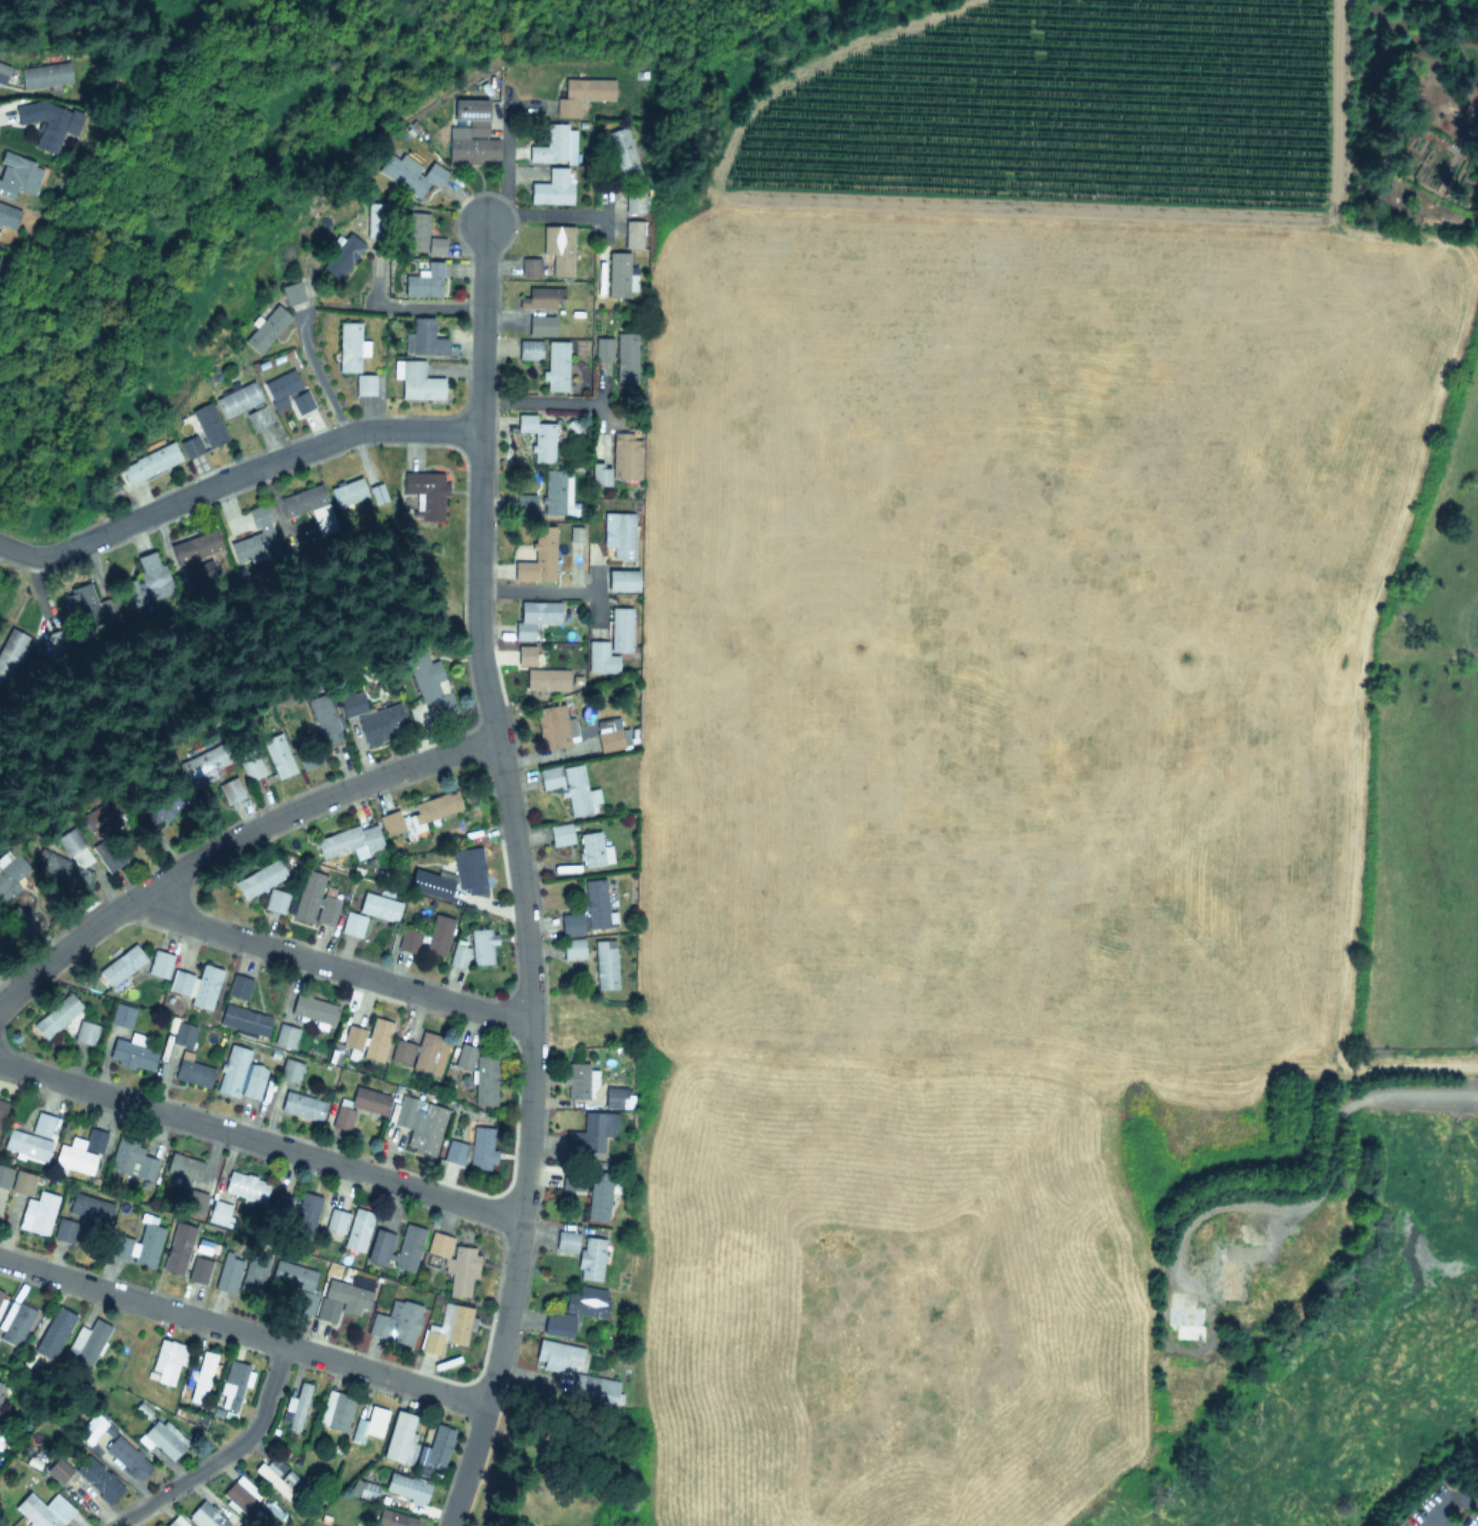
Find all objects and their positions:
building: (2, 72)
building: (43, 76)
building: (583, 94)
building: (43, 123)
building: (1475, 123)
building: (471, 133)
building: (551, 145)
building: (622, 151)
road: (506, 165)
building: (410, 173)
building: (17, 175)
building: (552, 187)
building: (635, 202)
road: (547, 214)
building: (8, 216)
building: (634, 234)
building: (421, 235)
building: (559, 249)
building: (342, 257)
building: (530, 267)
building: (618, 274)
building: (424, 281)
building: (292, 293)
building: (540, 297)
road: (420, 306)
building: (541, 324)
building: (266, 328)
building: (423, 337)
building: (349, 346)
building: (603, 346)
building: (529, 349)
building: (626, 357)
building: (556, 365)
road: (316, 374)
building: (418, 382)
building: (364, 384)
building: (287, 391)
building: (237, 399)
road: (539, 399)
building: (258, 417)
building: (207, 425)
building: (538, 436)
building: (190, 445)
building: (626, 456)
building: (149, 463)
road: (265, 463)
building: (555, 492)
building: (348, 493)
building: (426, 493)
building: (377, 494)
building: (308, 506)
building: (256, 534)
building: (618, 534)
building: (195, 549)
road: (31, 554)
building: (538, 558)
building: (622, 580)
building: (146, 582)
road: (533, 589)
building: (80, 607)
building: (534, 617)
building: (611, 643)
building: (10, 651)
building: (526, 654)
building: (546, 680)
building: (430, 684)
building: (371, 718)
building: (554, 725)
building: (326, 726)
crop: (1034, 728)
building: (609, 740)
building: (277, 756)
building: (309, 760)
building: (203, 763)
building: (251, 769)
building: (568, 787)
building: (230, 792)
building: (171, 807)
road: (511, 814)
building: (420, 815)
building: (96, 818)
building: (560, 835)
road: (232, 840)
building: (349, 841)
building: (591, 850)
building: (74, 852)
building: (109, 857)
building: (64, 872)
building: (469, 872)
building: (12, 876)
building: (259, 879)
building: (429, 886)
building: (308, 896)
building: (275, 902)
building: (596, 904)
building: (326, 910)
building: (369, 914)
building: (571, 925)
building: (438, 936)
building: (409, 941)
building: (481, 947)
building: (573, 950)
building: (458, 954)
building: (159, 964)
building: (121, 965)
road: (333, 965)
building: (605, 965)
building: (196, 986)
building: (238, 986)
building: (313, 1010)
building: (56, 1016)
building: (121, 1016)
building: (244, 1021)
road: (582, 1022)
building: (85, 1033)
building: (183, 1034)
building: (285, 1036)
building: (352, 1037)
building: (376, 1039)
building: (421, 1052)
building: (131, 1054)
building: (232, 1070)
building: (289, 1071)
building: (193, 1073)
building: (480, 1073)
building: (578, 1080)
building: (253, 1081)
road: (1413, 1086)
building: (611, 1096)
building: (301, 1105)
building: (358, 1106)
building: (2, 1110)
building: (419, 1123)
building: (591, 1131)
building: (31, 1137)
road: (261, 1141)
building: (474, 1148)
building: (80, 1153)
building: (131, 1158)
building: (183, 1166)
building: (4, 1176)
building: (571, 1180)
building: (22, 1183)
building: (245, 1186)
building: (598, 1199)
building: (193, 1201)
building: (279, 1205)
building: (89, 1207)
building: (218, 1211)
building: (37, 1213)
building: (305, 1213)
building: (335, 1221)
building: (1229, 1228)
building: (357, 1229)
building: (67, 1232)
building: (147, 1241)
building: (566, 1241)
building: (120, 1246)
building: (178, 1247)
building: (379, 1247)
building: (408, 1248)
building: (590, 1258)
building: (452, 1266)
building: (199, 1269)
building: (254, 1271)
building: (228, 1273)
building: (1228, 1273)
building: (296, 1283)
building: (1, 1294)
building: (341, 1300)
building: (585, 1302)
building: (1186, 1321)
building: (15, 1322)
building: (396, 1323)
building: (558, 1325)
building: (447, 1329)
road: (243, 1332)
building: (53, 1333)
building: (86, 1343)
building: (557, 1355)
building: (166, 1361)
building: (198, 1377)
building: (233, 1385)
building: (594, 1388)
building: (298, 1407)
building: (335, 1411)
building: (369, 1424)
building: (164, 1438)
building: (400, 1438)
building: (437, 1446)
building: (124, 1455)
road: (224, 1455)
road: (469, 1466)
building: (88, 1474)
building: (279, 1480)
building: (405, 1487)
building: (366, 1490)
building: (240, 1494)
road: (1448, 1504)
parking lot: (1445, 1507)
building: (43, 1510)
building: (205, 1516)
building: (393, 1518)
building: (173, 1523)
road: (1434, 1523)

